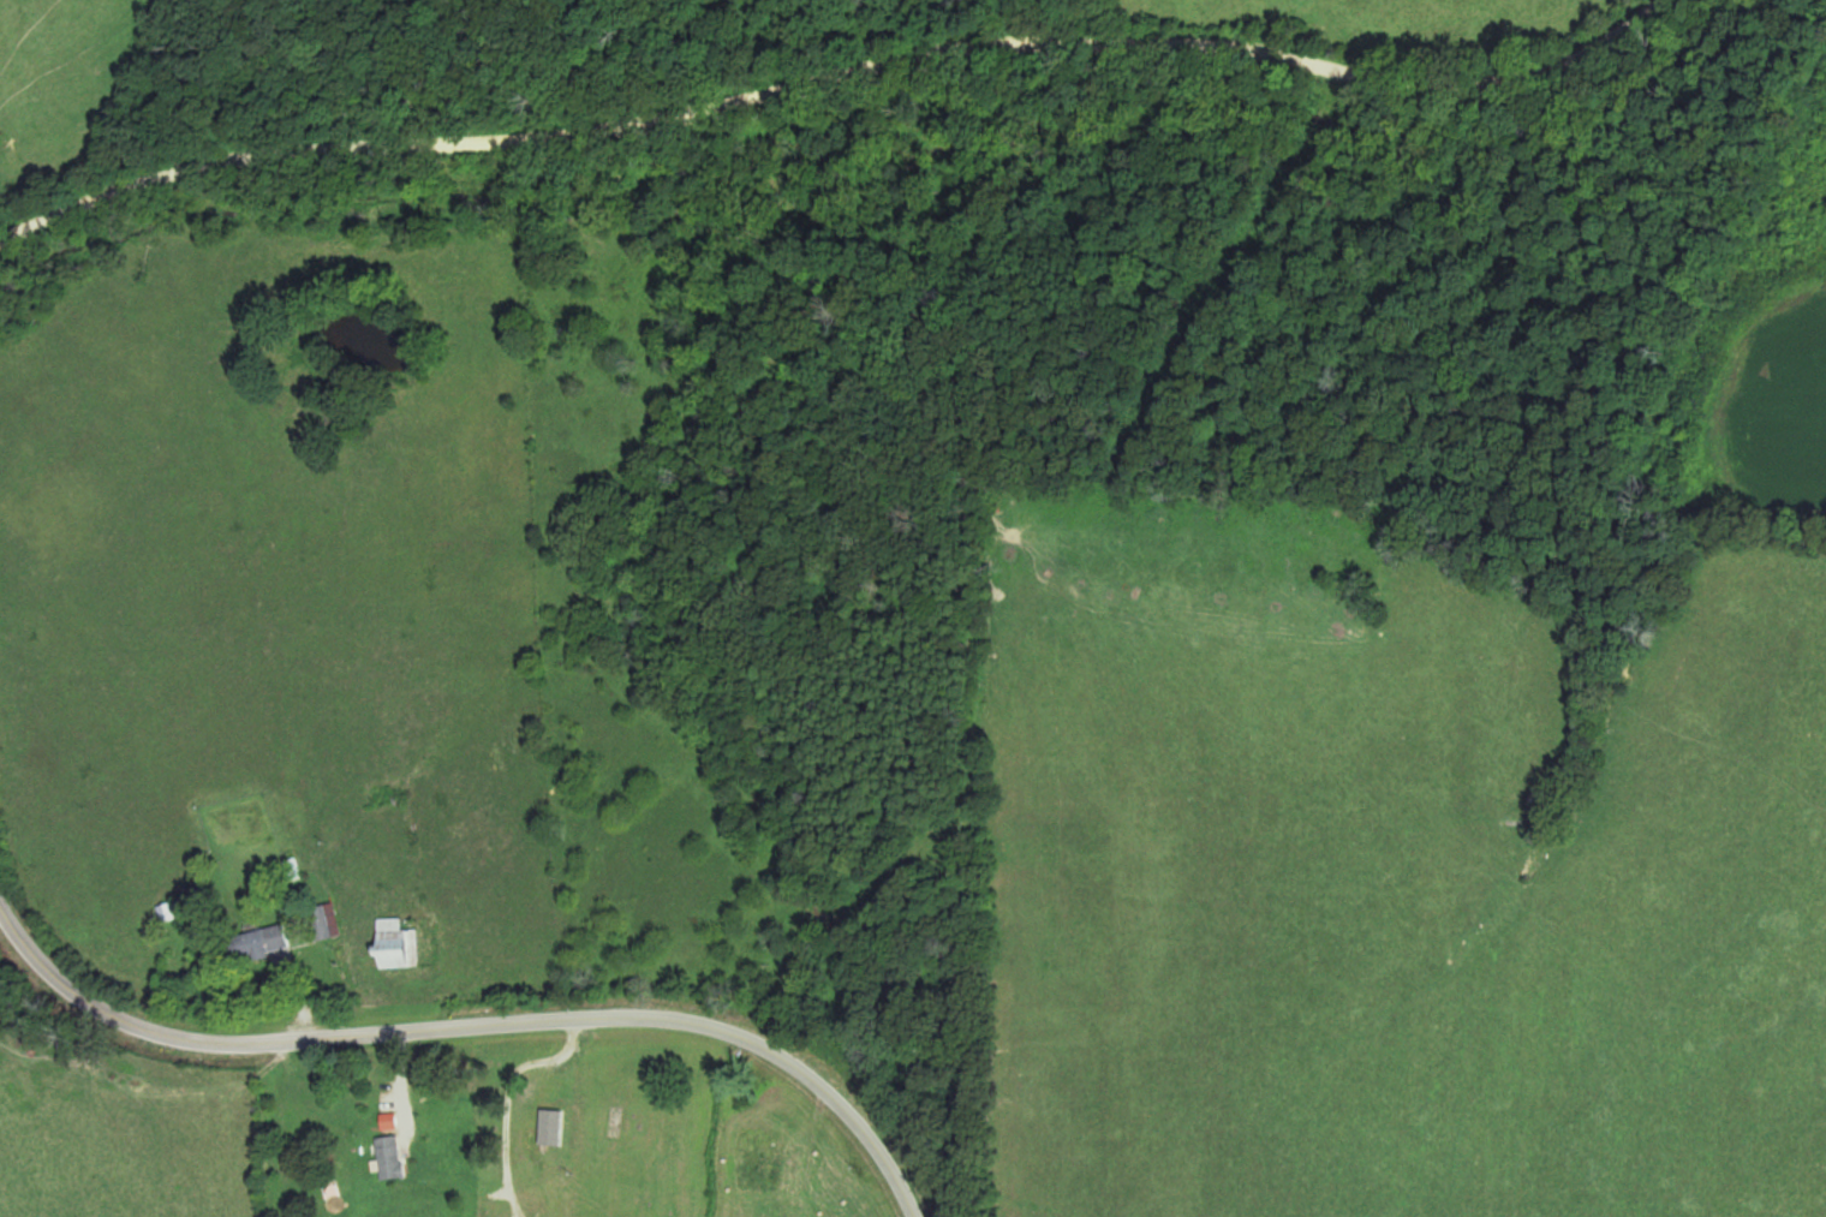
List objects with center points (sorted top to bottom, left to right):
road: (830, 73)
building: (264, 943)
building: (396, 943)
road: (473, 1024)
building: (388, 1157)
building: (787, 1168)

